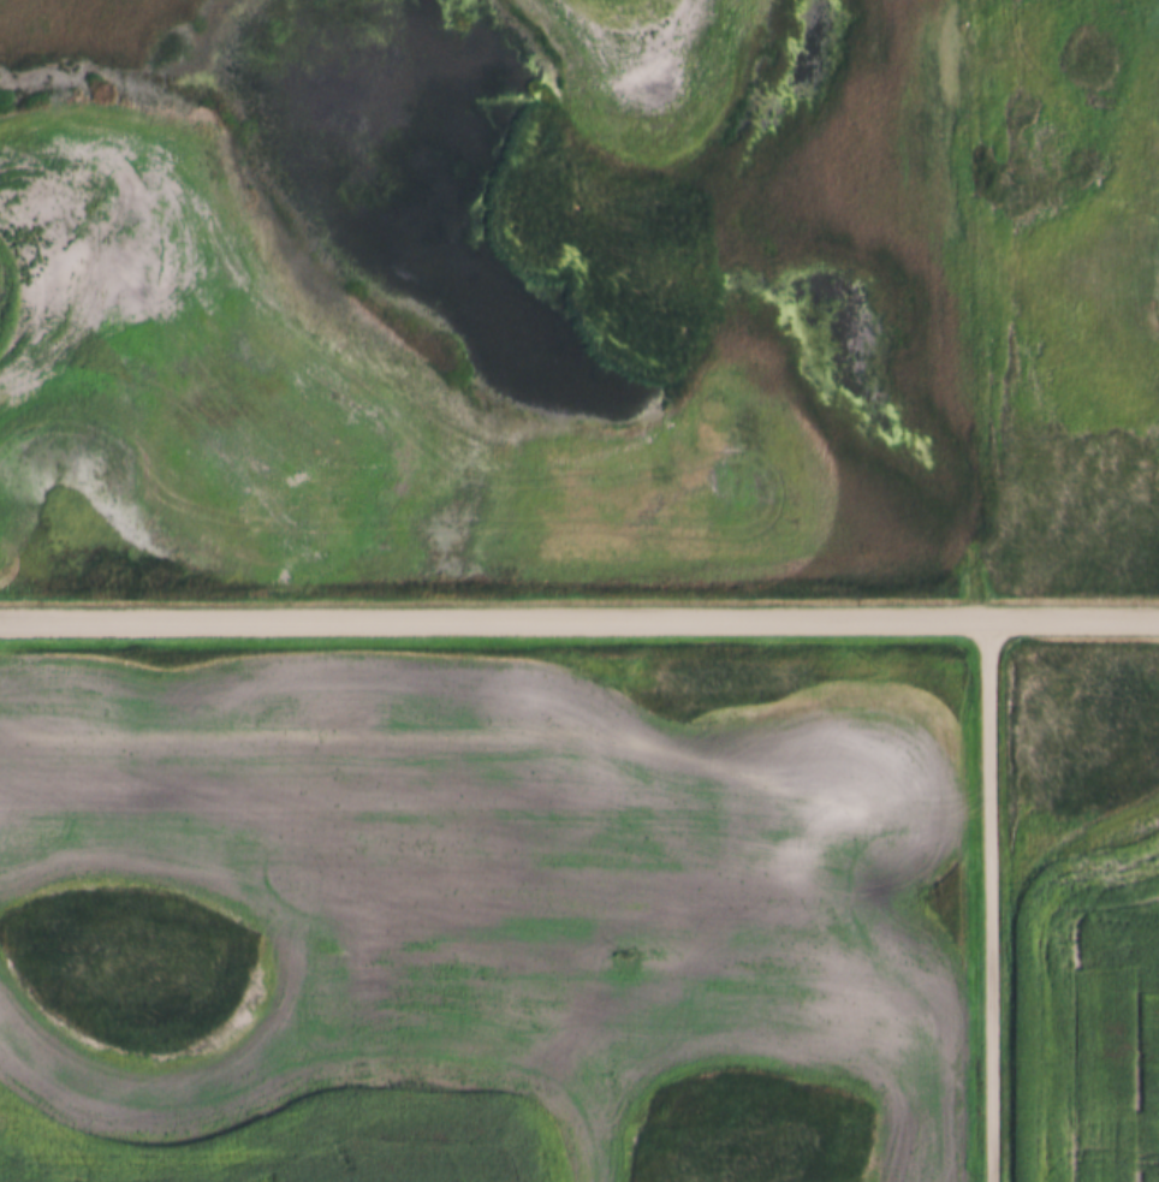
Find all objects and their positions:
road: (579, 618)
road: (992, 899)

